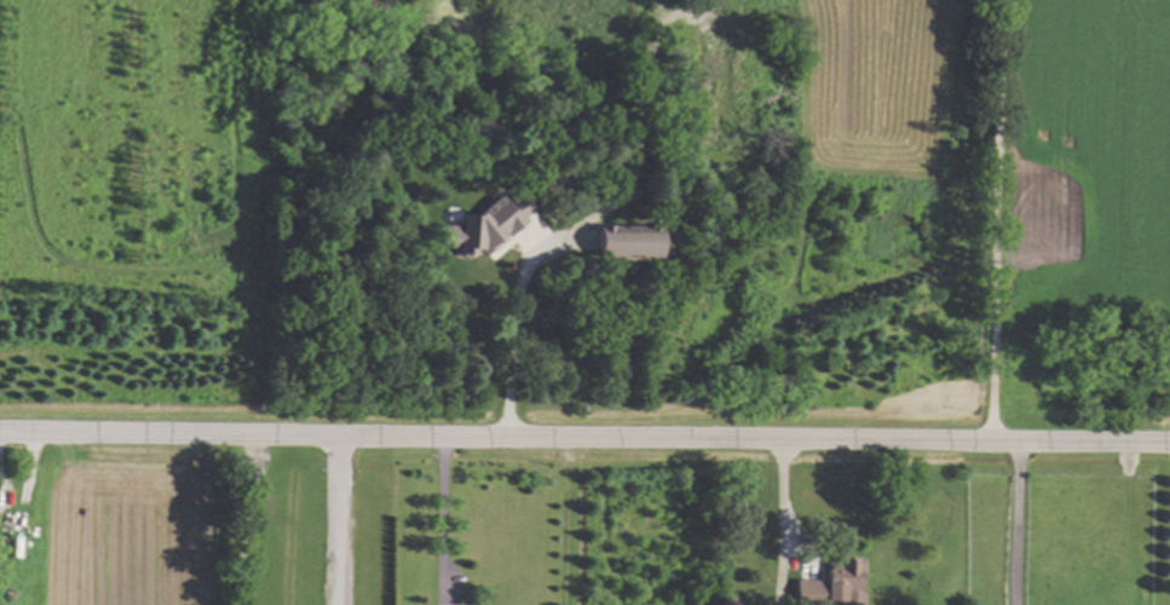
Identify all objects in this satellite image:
crop: (1025, 155)
road: (996, 224)
building: (477, 226)
building: (622, 240)
road: (512, 334)
road: (584, 436)
road: (780, 507)
road: (338, 520)
road: (440, 520)
road: (1021, 526)
crop: (131, 535)
building: (838, 581)
building: (803, 589)

